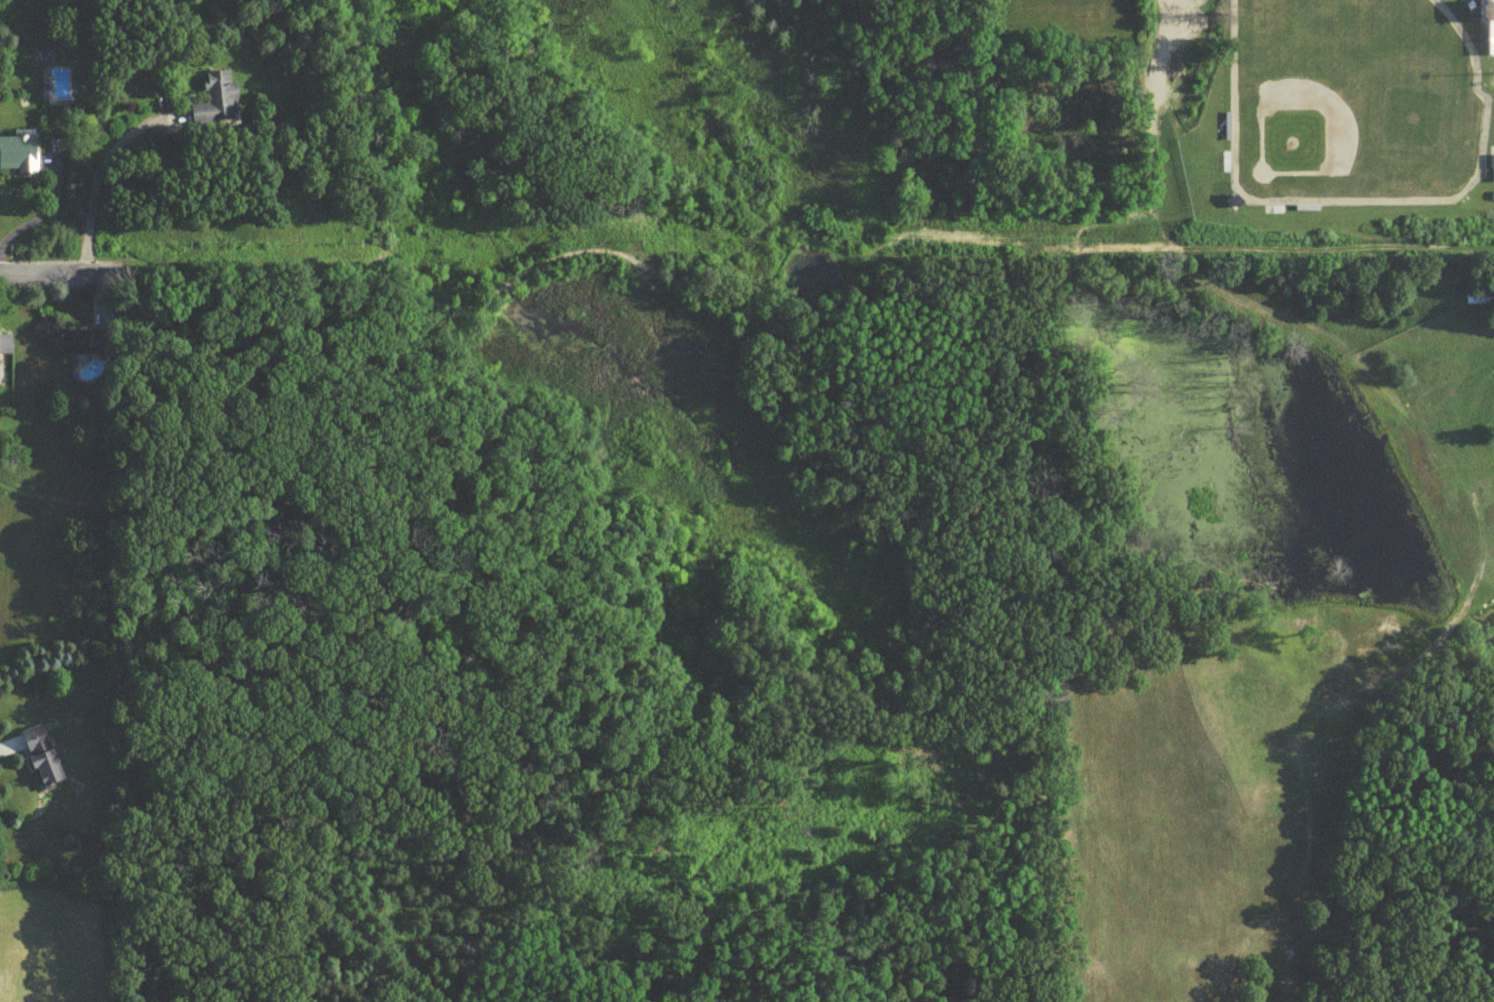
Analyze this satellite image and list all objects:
building: (1490, 29)
building: (217, 100)
park: (1353, 106)
building: (22, 153)
road: (104, 167)
building: (1493, 173)
road: (46, 203)
road: (56, 272)
road: (103, 299)
building: (67, 339)
building: (8, 344)
road: (12, 748)
building: (43, 755)
crop: (54, 941)

